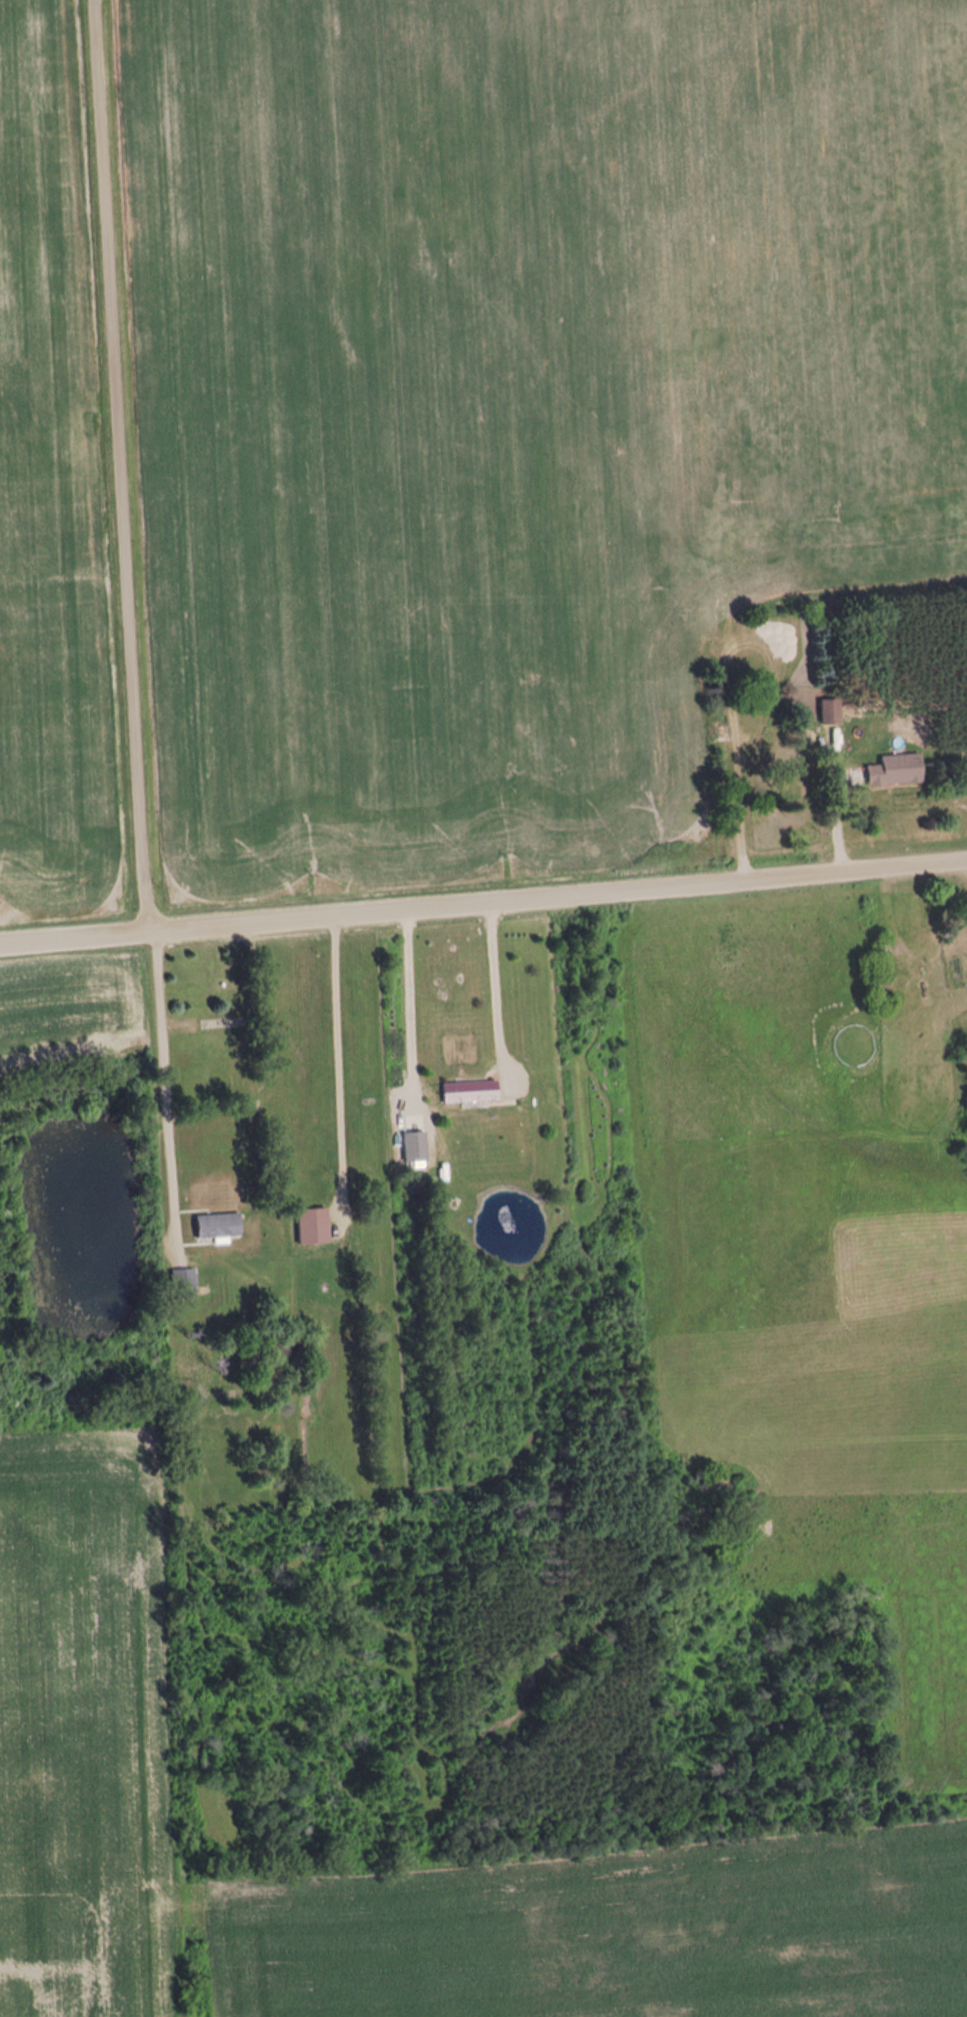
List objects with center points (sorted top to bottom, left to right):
road: (116, 466)
building: (833, 711)
building: (897, 770)
road: (483, 903)
building: (884, 945)
road: (498, 986)
building: (471, 1092)
building: (417, 1147)
building: (221, 1225)
building: (315, 1226)
building: (185, 1281)

